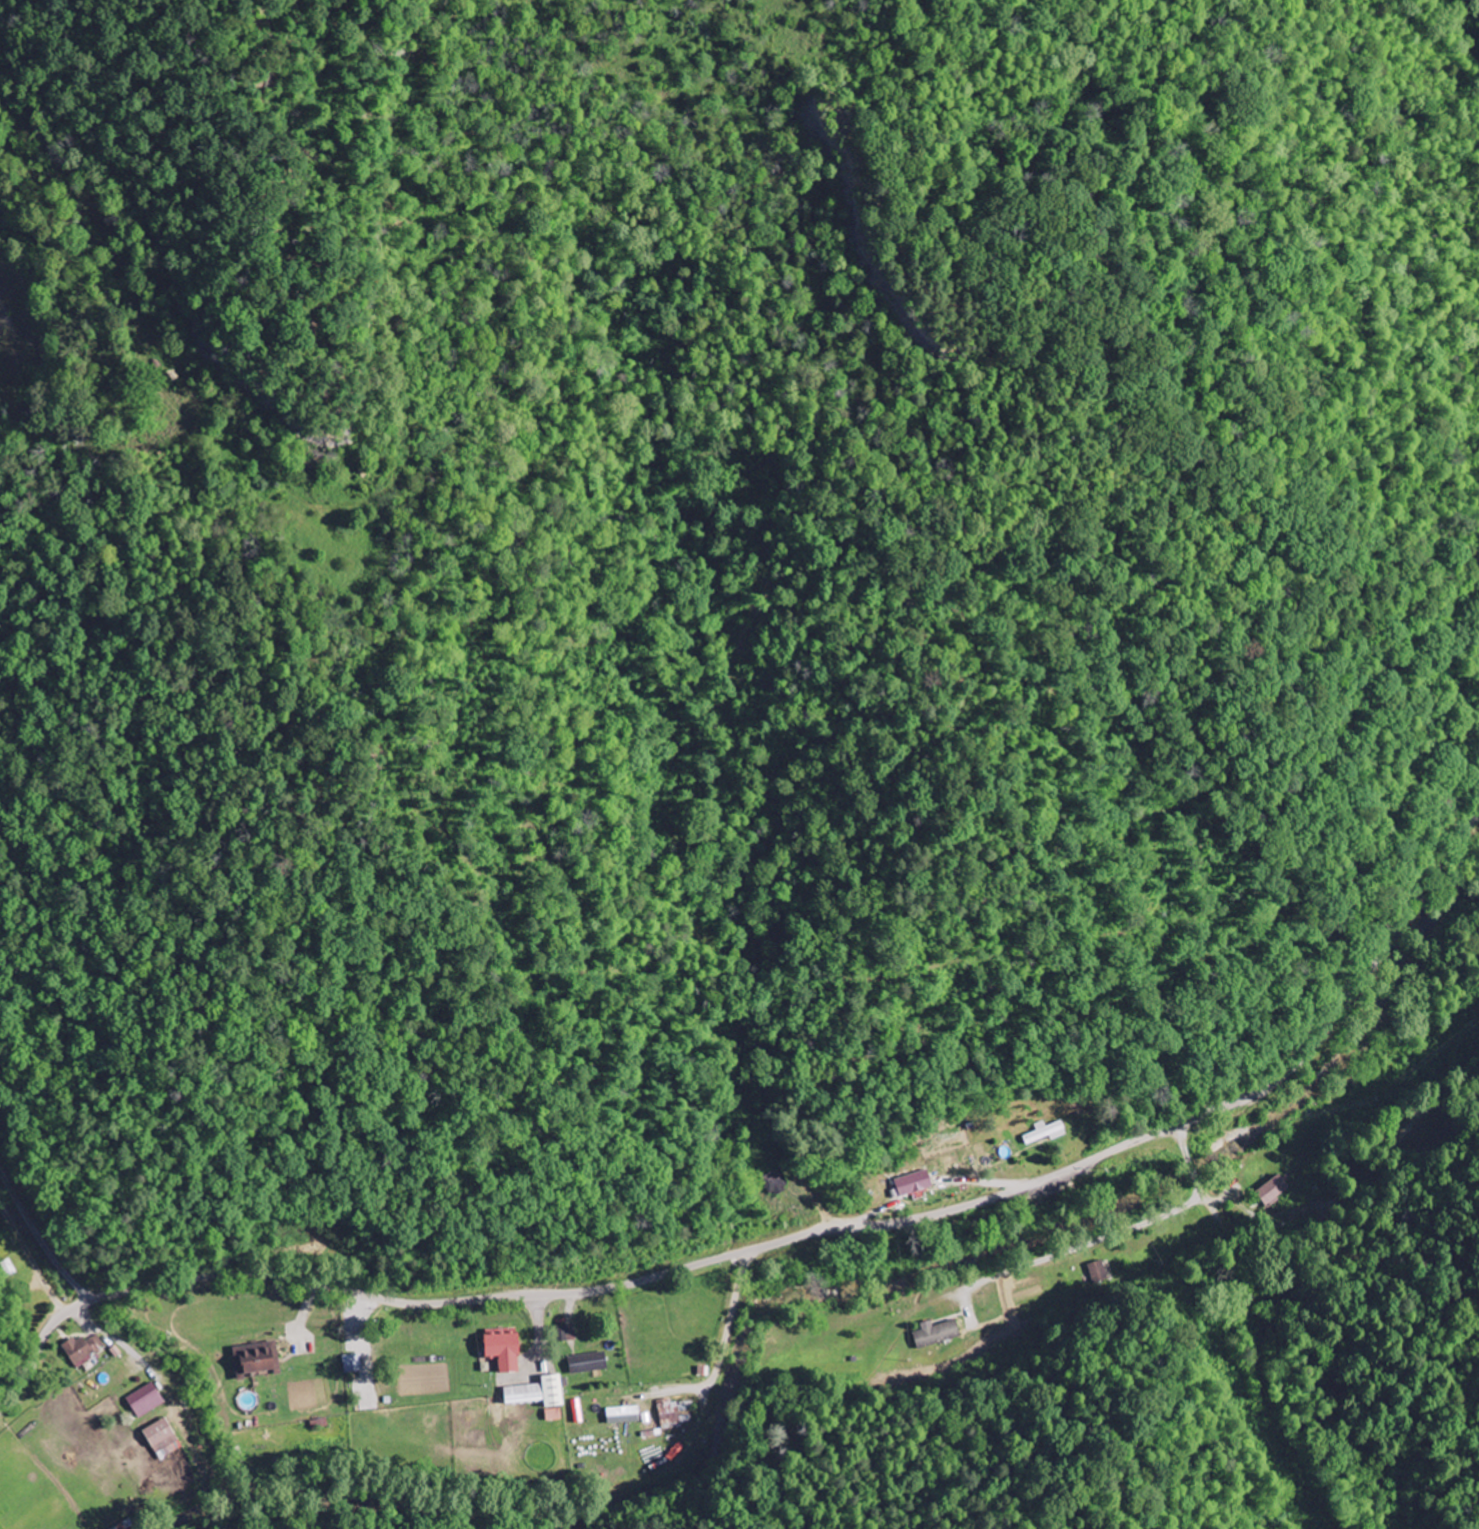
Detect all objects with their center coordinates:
building: (1047, 1132)
building: (917, 1183)
building: (1275, 1189)
road: (787, 1239)
road: (39, 1240)
road: (1264, 1326)
building: (569, 1333)
building: (939, 1333)
building: (86, 1349)
building: (510, 1351)
building: (260, 1358)
building: (354, 1363)
building: (590, 1363)
building: (544, 1395)
building: (148, 1400)
building: (625, 1415)
building: (165, 1438)

